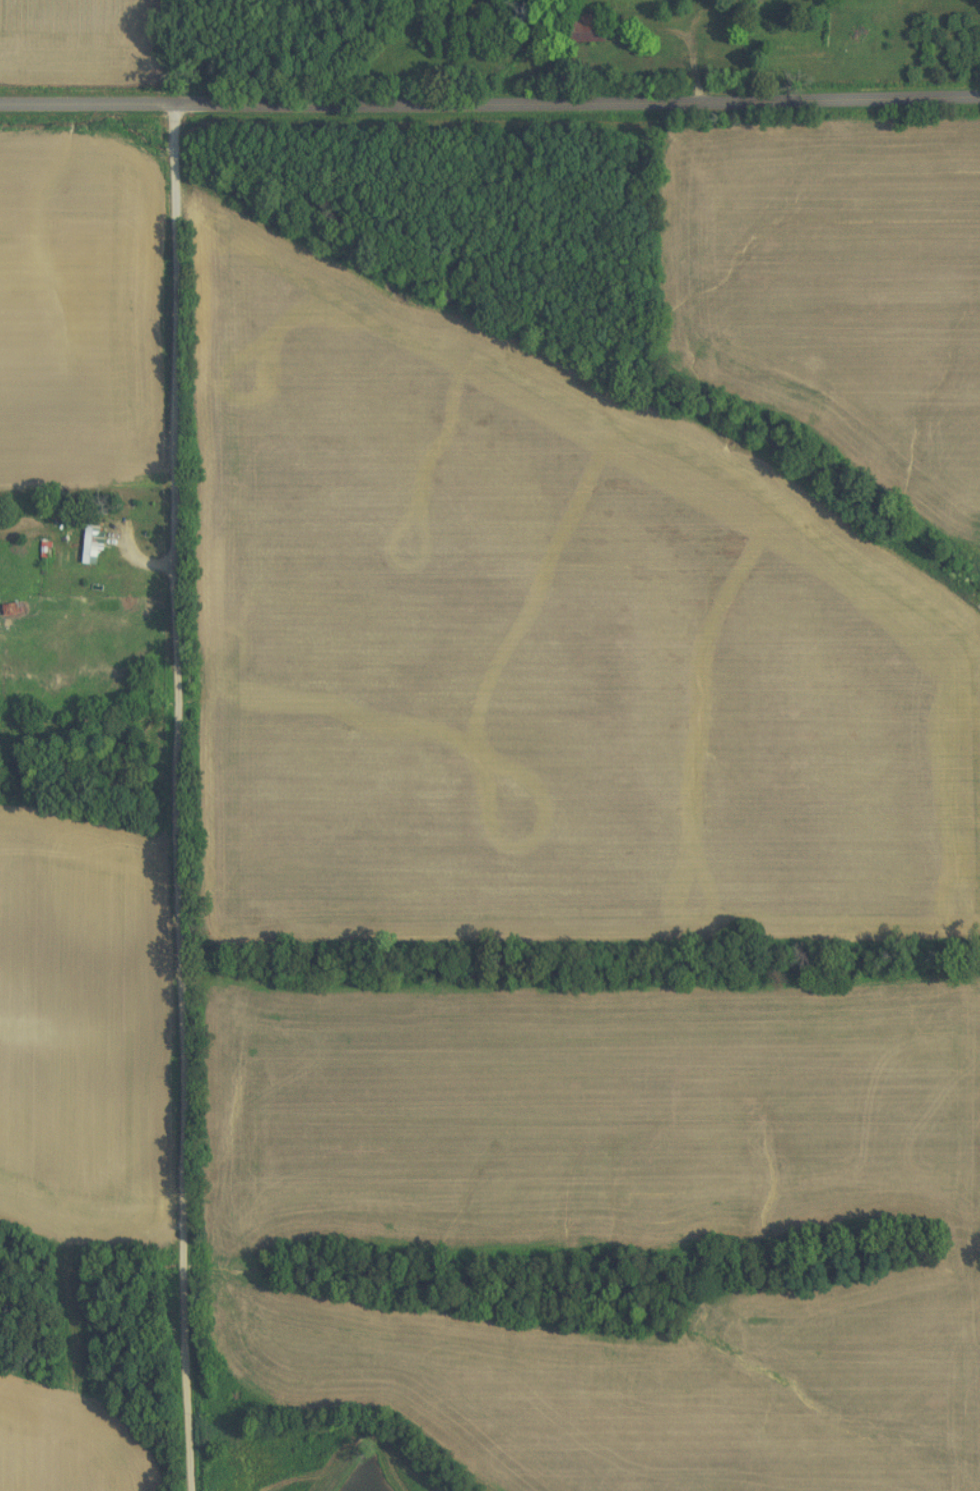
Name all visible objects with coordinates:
building: (588, 27)
road: (490, 101)
road: (177, 363)
building: (88, 546)
building: (10, 607)

